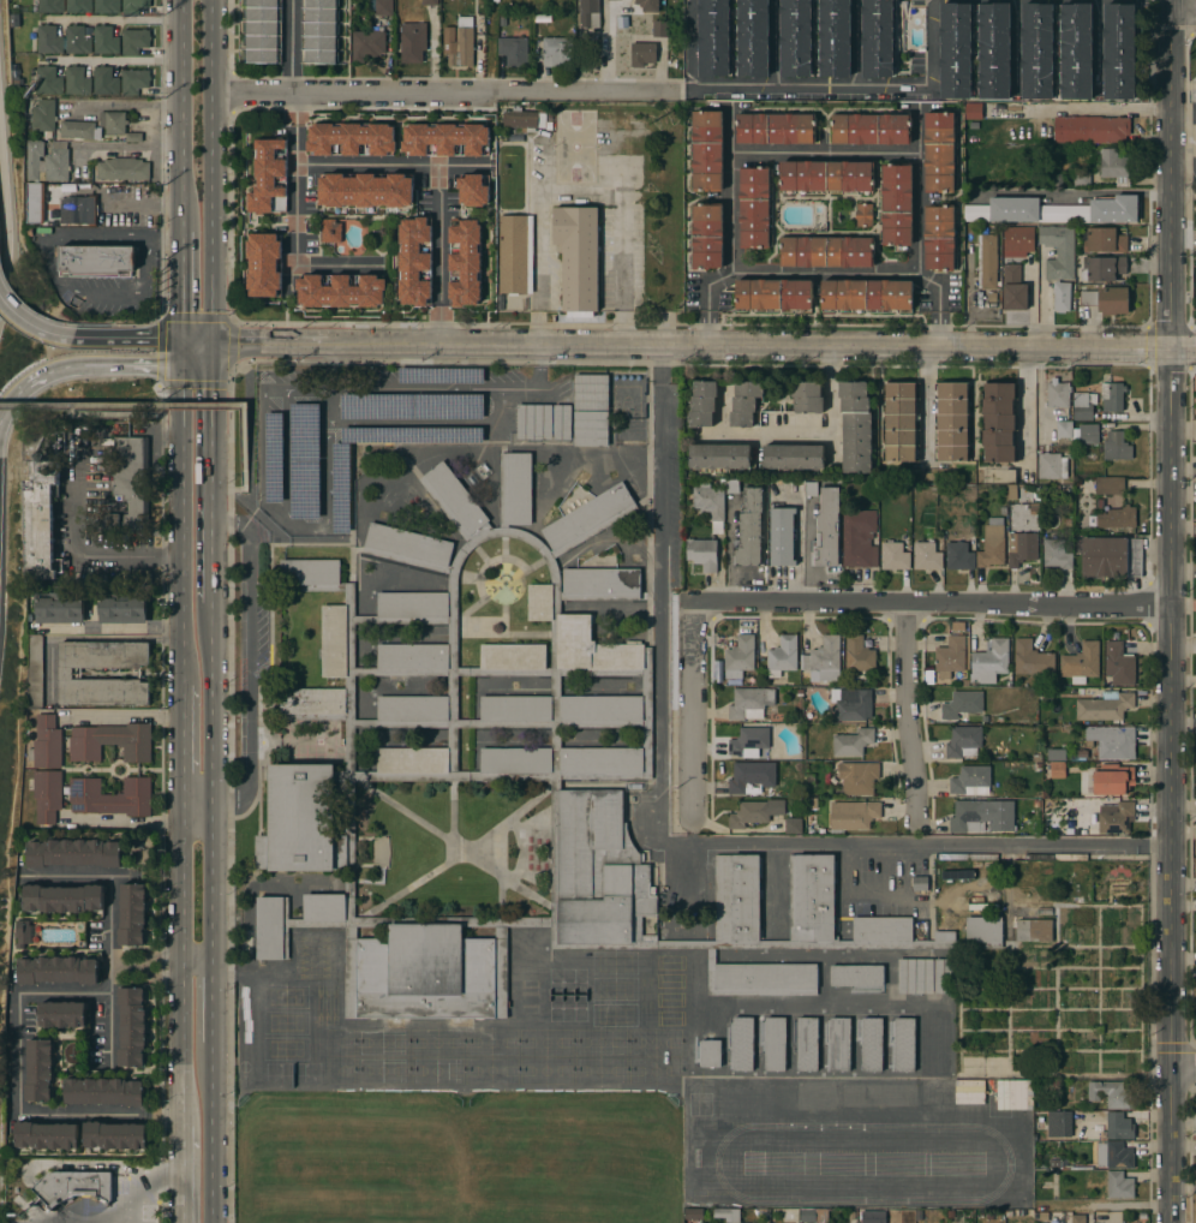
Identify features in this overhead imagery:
building: (430, 1)
building: (496, 1)
building: (647, 5)
building: (50, 6)
building: (78, 6)
building: (107, 6)
building: (133, 6)
building: (381, 7)
road: (1184, 12)
building: (588, 13)
building: (543, 18)
road: (118, 19)
building: (502, 20)
building: (660, 29)
building: (262, 31)
building: (319, 31)
building: (339, 35)
building: (714, 37)
building: (752, 37)
building: (796, 37)
building: (835, 38)
building: (878, 38)
building: (49, 40)
building: (77, 40)
building: (104, 40)
building: (134, 41)
building: (412, 42)
building: (459, 42)
road: (931, 42)
building: (366, 44)
road: (292, 47)
road: (610, 49)
building: (513, 50)
building: (956, 50)
building: (994, 50)
building: (1037, 50)
building: (1076, 50)
building: (556, 52)
building: (1119, 52)
building: (642, 54)
road: (115, 61)
building: (48, 80)
building: (77, 80)
building: (104, 80)
building: (134, 80)
road: (814, 86)
road: (443, 94)
road: (1095, 109)
building: (974, 111)
road: (1184, 113)
building: (43, 115)
road: (181, 115)
building: (526, 119)
building: (113, 121)
building: (776, 129)
building: (871, 129)
building: (79, 130)
road: (731, 130)
road: (917, 130)
building: (1090, 130)
building: (48, 135)
building: (351, 139)
building: (445, 139)
building: (707, 151)
building: (939, 151)
road: (825, 153)
building: (48, 161)
road: (391, 163)
building: (1116, 167)
road: (1185, 167)
building: (122, 168)
road: (211, 175)
building: (269, 177)
building: (826, 177)
building: (1082, 179)
road: (295, 181)
road: (582, 185)
building: (64, 189)
building: (365, 190)
building: (473, 190)
building: (35, 203)
road: (142, 204)
building: (896, 204)
road: (8, 205)
building: (754, 207)
building: (78, 209)
building: (1053, 210)
building: (863, 215)
building: (330, 231)
building: (707, 235)
building: (939, 238)
building: (1017, 240)
building: (1105, 240)
building: (1058, 251)
building: (826, 252)
building: (515, 253)
building: (578, 256)
road: (438, 257)
building: (96, 259)
building: (987, 261)
building: (415, 262)
building: (464, 262)
building: (264, 264)
road: (340, 267)
building: (1102, 268)
road: (826, 272)
road: (181, 286)
building: (1013, 288)
building: (341, 290)
building: (773, 294)
building: (866, 294)
building: (1063, 297)
building: (1106, 299)
road: (705, 300)
road: (939, 304)
road: (32, 327)
road: (128, 340)
road: (196, 346)
road: (702, 350)
road: (181, 353)
road: (196, 359)
building: (1106, 359)
road: (157, 365)
road: (55, 371)
building: (441, 376)
road: (533, 387)
building: (591, 392)
building: (1112, 392)
building: (1057, 394)
building: (1195, 394)
building: (807, 396)
building: (702, 404)
building: (746, 404)
road: (927, 404)
building: (412, 406)
road: (829, 406)
building: (1084, 406)
road: (122, 407)
road: (1031, 411)
building: (534, 422)
building: (562, 422)
building: (901, 422)
building: (952, 422)
building: (999, 422)
building: (1107, 425)
building: (855, 426)
building: (591, 428)
building: (1064, 432)
road: (753, 434)
building: (1088, 434)
building: (412, 435)
building: (1116, 447)
building: (1089, 451)
building: (719, 457)
building: (793, 457)
building: (274, 458)
building: (305, 460)
building: (1052, 465)
road: (245, 466)
road: (211, 479)
building: (131, 481)
building: (1110, 485)
building: (341, 488)
building: (732, 488)
building: (811, 489)
building: (711, 503)
building: (1118, 518)
building: (40, 519)
building: (110, 521)
building: (749, 530)
building: (826, 530)
building: (782, 537)
building: (859, 538)
building: (992, 547)
building: (1021, 548)
building: (702, 554)
building: (1057, 554)
road: (104, 555)
building: (927, 555)
building: (893, 556)
building: (958, 556)
building: (1112, 556)
building: (1194, 573)
road: (663, 593)
road: (933, 605)
building: (60, 609)
building: (121, 609)
road: (1167, 610)
building: (857, 654)
building: (783, 656)
building: (950, 656)
building: (738, 657)
building: (824, 658)
building: (1031, 658)
building: (1119, 661)
road: (250, 662)
building: (989, 662)
building: (1082, 662)
building: (36, 672)
building: (65, 673)
building: (749, 676)
building: (806, 681)
building: (800, 693)
building: (749, 703)
road: (211, 704)
building: (851, 704)
building: (961, 704)
building: (1105, 706)
road: (696, 712)
road: (911, 712)
road: (122, 716)
building: (809, 717)
road: (195, 727)
building: (814, 729)
building: (349, 738)
building: (44, 741)
building: (110, 741)
building: (751, 741)
building: (963, 741)
building: (1112, 741)
building: (851, 742)
road: (180, 746)
building: (1056, 754)
building: (1082, 754)
building: (1057, 769)
building: (744, 776)
building: (856, 777)
building: (971, 780)
building: (1112, 780)
building: (47, 794)
building: (1037, 795)
building: (110, 797)
building: (1036, 804)
building: (759, 811)
building: (853, 816)
building: (981, 816)
building: (1116, 817)
building: (794, 825)
building: (821, 831)
building: (811, 833)
building: (1070, 834)
road: (915, 846)
building: (74, 853)
building: (968, 857)
building: (1040, 858)
building: (1019, 864)
building: (1028, 871)
building: (920, 883)
building: (1039, 894)
building: (64, 899)
building: (944, 907)
building: (1043, 911)
building: (132, 914)
road: (108, 926)
building: (1040, 932)
building: (24, 933)
building: (58, 970)
building: (856, 976)
building: (915, 976)
building: (943, 976)
road: (18, 1010)
road: (211, 1012)
building: (62, 1014)
building: (132, 1026)
road: (199, 1033)
building: (743, 1043)
building: (937, 1043)
building: (775, 1044)
building: (807, 1044)
building: (839, 1044)
building: (872, 1044)
building: (904, 1044)
building: (711, 1054)
road: (1183, 1066)
building: (40, 1069)
building: (970, 1086)
building: (103, 1091)
building: (1112, 1093)
building: (815, 1094)
building: (861, 1094)
building: (897, 1094)
building: (1025, 1094)
building: (740, 1099)
building: (777, 1099)
road: (100, 1116)
building: (1059, 1123)
building: (1118, 1127)
building: (47, 1135)
building: (114, 1135)
building: (1113, 1156)
building: (1057, 1164)
road: (180, 1175)
building: (1119, 1185)
building: (72, 1187)
road: (126, 1207)
road: (133, 1212)
building: (150, 1212)
building: (693, 1213)
building: (728, 1213)
building: (751, 1213)
building: (1007, 1213)
building: (813, 1215)
building: (853, 1215)
building: (951, 1215)
building: (964, 1216)
building: (1043, 1216)
building: (1143, 1216)
building: (869, 1217)
building: (988, 1217)
building: (1078, 1218)

